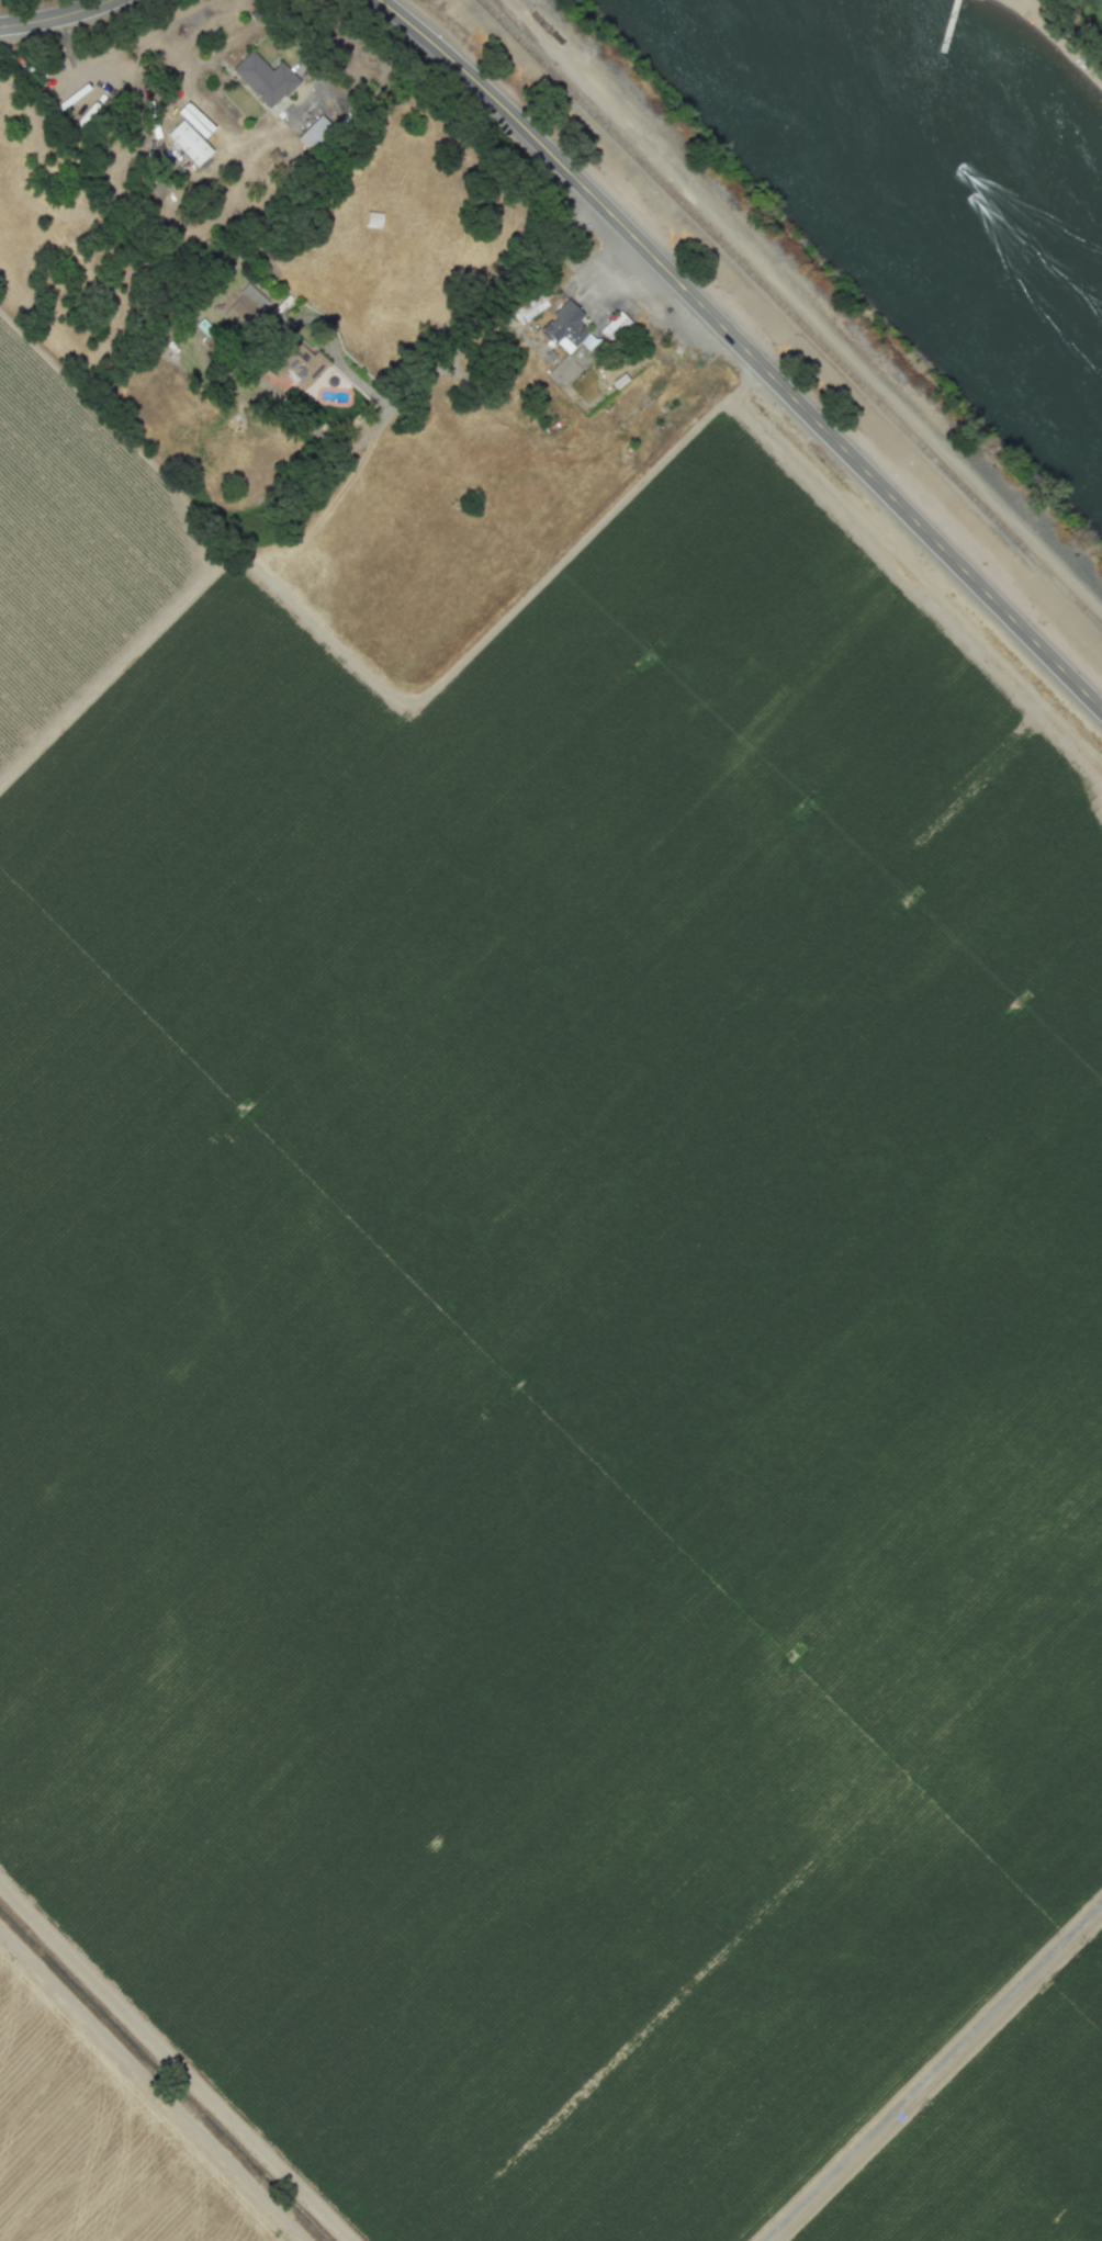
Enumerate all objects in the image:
road: (57, 18)
road: (315, 65)
building: (263, 78)
building: (313, 133)
building: (187, 143)
river: (940, 161)
building: (244, 307)
building: (528, 308)
railway: (789, 315)
building: (612, 326)
building: (564, 327)
road: (468, 331)
road: (743, 351)
building: (295, 364)
crop: (552, 1359)
road: (935, 2074)
road: (155, 2083)

